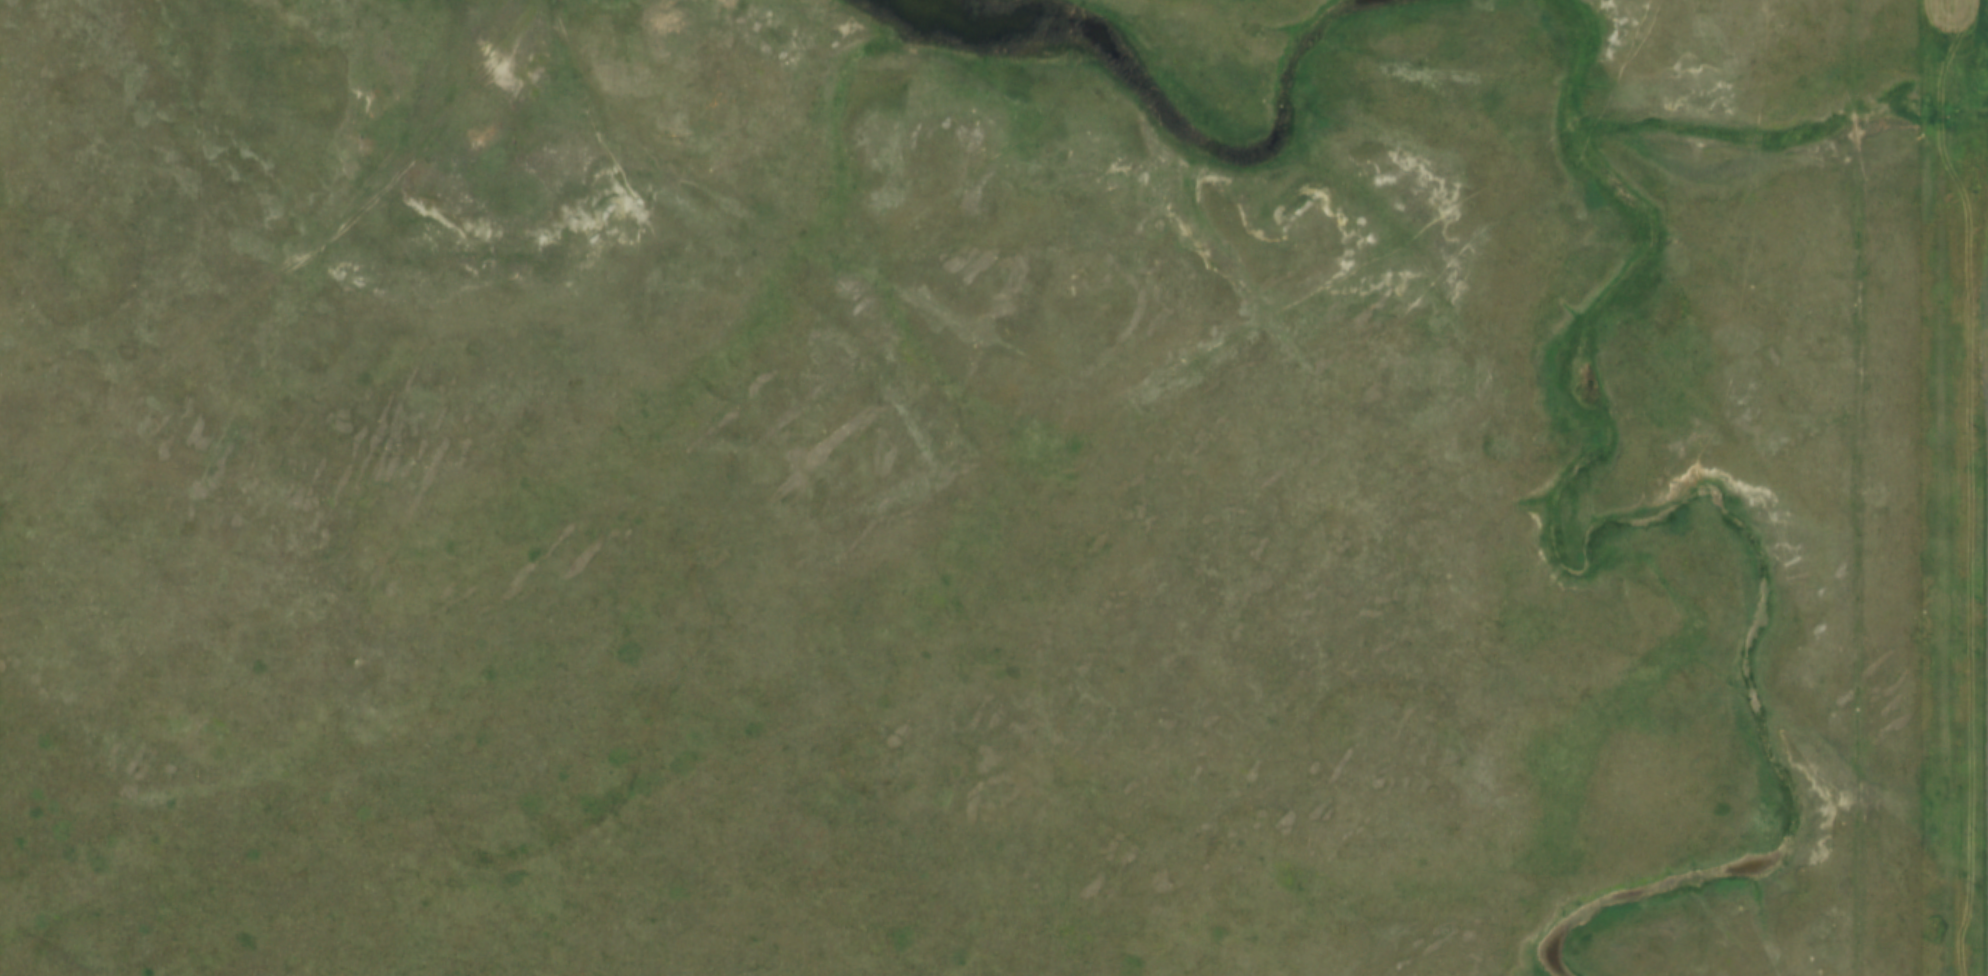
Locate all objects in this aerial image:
road: (1950, 487)

